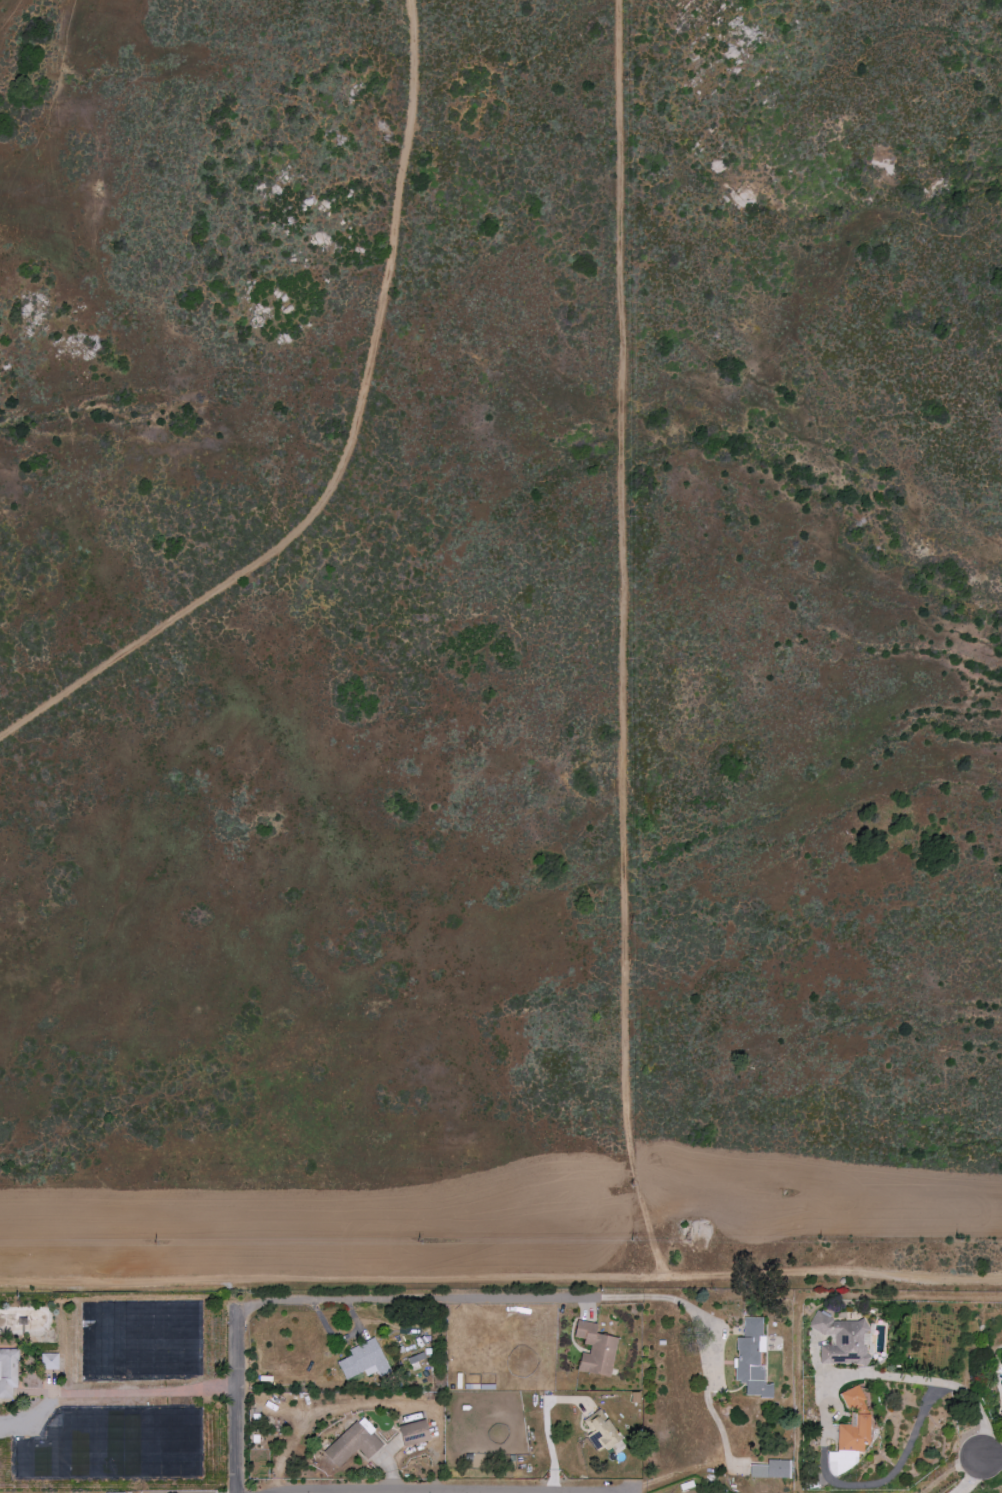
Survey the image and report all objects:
road: (501, 1280)
road: (493, 1298)
building: (843, 1340)
building: (594, 1349)
building: (361, 1359)
building: (751, 1359)
road: (946, 1385)
road: (148, 1392)
road: (239, 1402)
building: (1001, 1408)
building: (600, 1430)
building: (415, 1433)
building: (850, 1433)
building: (353, 1444)
road: (990, 1457)
road: (728, 1462)
building: (770, 1469)
road: (892, 1473)
road: (332, 1492)
road: (420, 1492)
road: (450, 1492)

